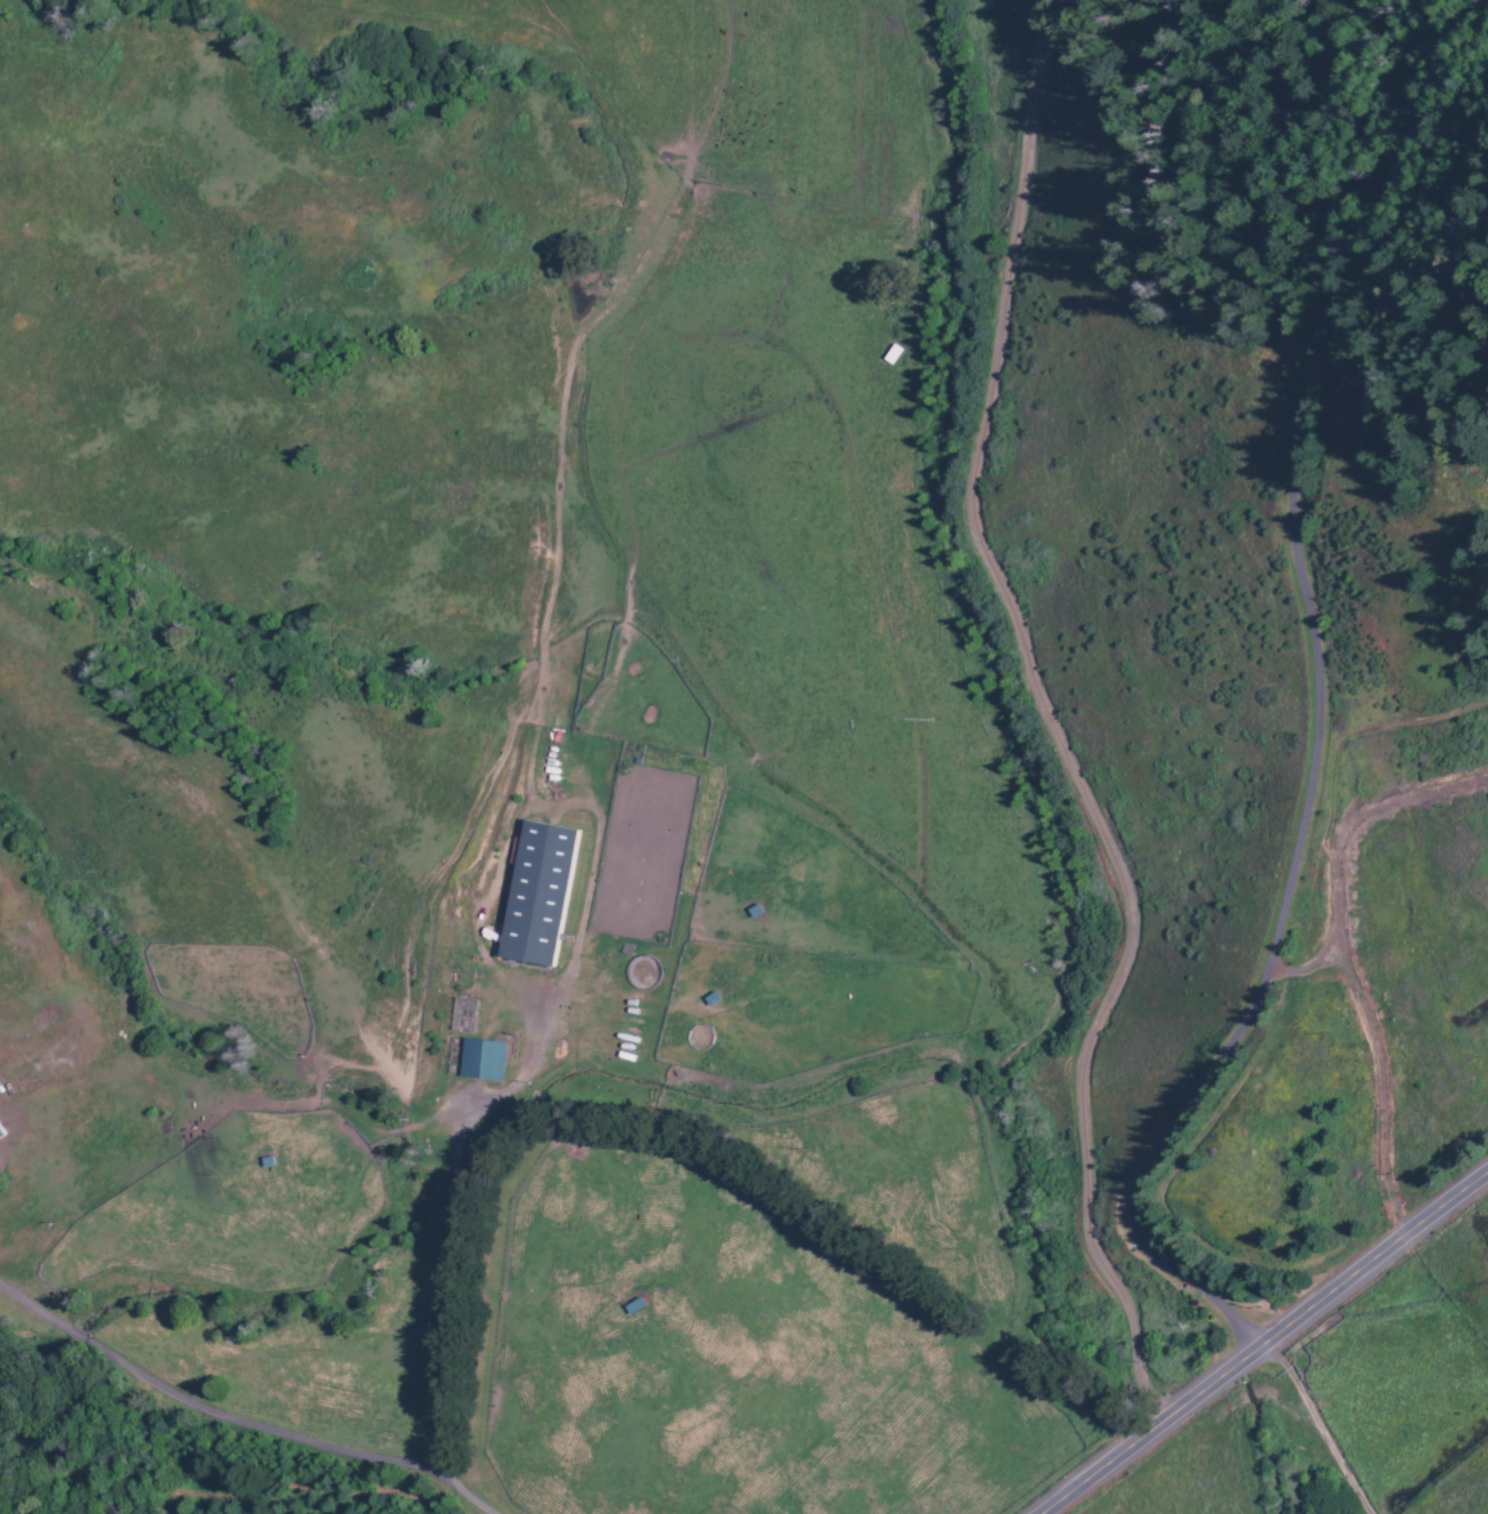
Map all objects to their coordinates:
road: (1310, 722)
building: (537, 893)
road: (632, 896)
building: (481, 1059)
building: (1, 1133)
road: (229, 1253)
road: (1259, 1337)
road: (351, 1429)

